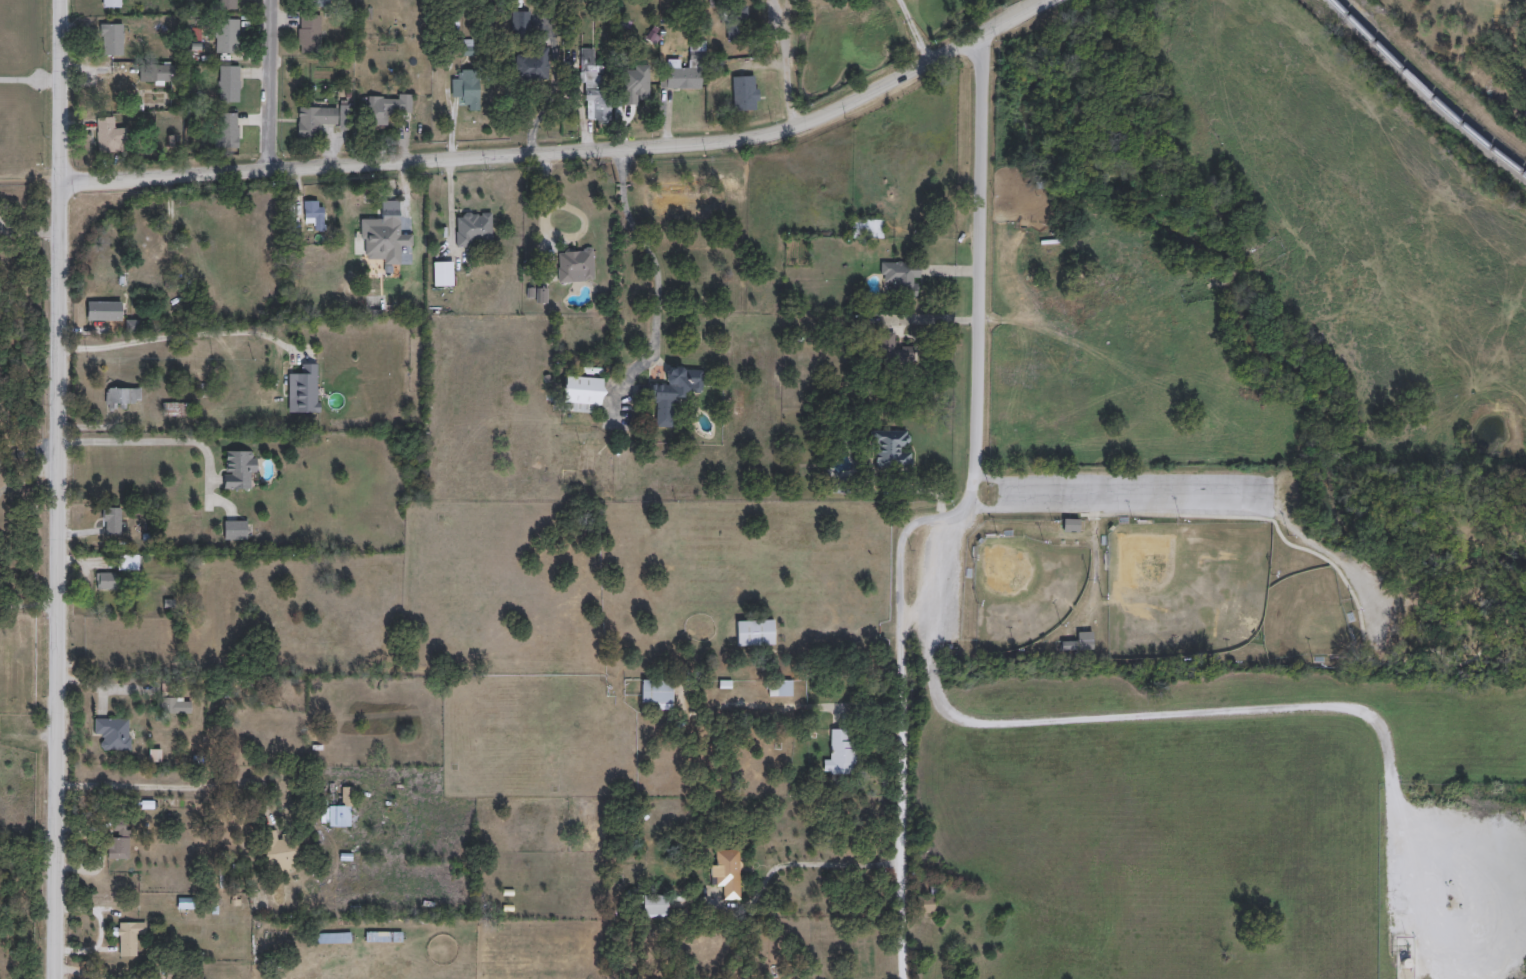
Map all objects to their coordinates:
building: (315, 4)
road: (912, 30)
building: (308, 34)
building: (531, 63)
road: (789, 64)
building: (685, 72)
road: (29, 79)
road: (273, 85)
building: (637, 85)
building: (595, 88)
building: (466, 90)
railway: (1427, 90)
building: (743, 94)
building: (388, 105)
road: (545, 105)
building: (314, 121)
road: (567, 154)
building: (312, 215)
building: (472, 229)
building: (866, 229)
road: (27, 234)
building: (384, 237)
building: (574, 266)
road: (664, 268)
building: (441, 274)
building: (900, 280)
road: (181, 335)
building: (893, 360)
building: (675, 385)
building: (302, 390)
building: (581, 395)
road: (150, 441)
building: (890, 450)
road: (28, 454)
road: (26, 474)
road: (57, 489)
road: (1113, 492)
parking lot: (1135, 492)
road: (989, 508)
road: (949, 516)
building: (1069, 526)
road: (1330, 563)
park: (1229, 567)
road: (940, 580)
park: (1184, 587)
park: (1023, 589)
road: (24, 604)
building: (293, 605)
park: (1303, 616)
building: (303, 627)
building: (359, 627)
building: (738, 632)
building: (1075, 646)
road: (930, 657)
building: (778, 688)
building: (657, 694)
road: (1262, 708)
road: (29, 734)
building: (839, 754)
road: (154, 784)
building: (337, 811)
building: (278, 848)
road: (816, 863)
building: (725, 873)
building: (923, 905)
building: (653, 906)

